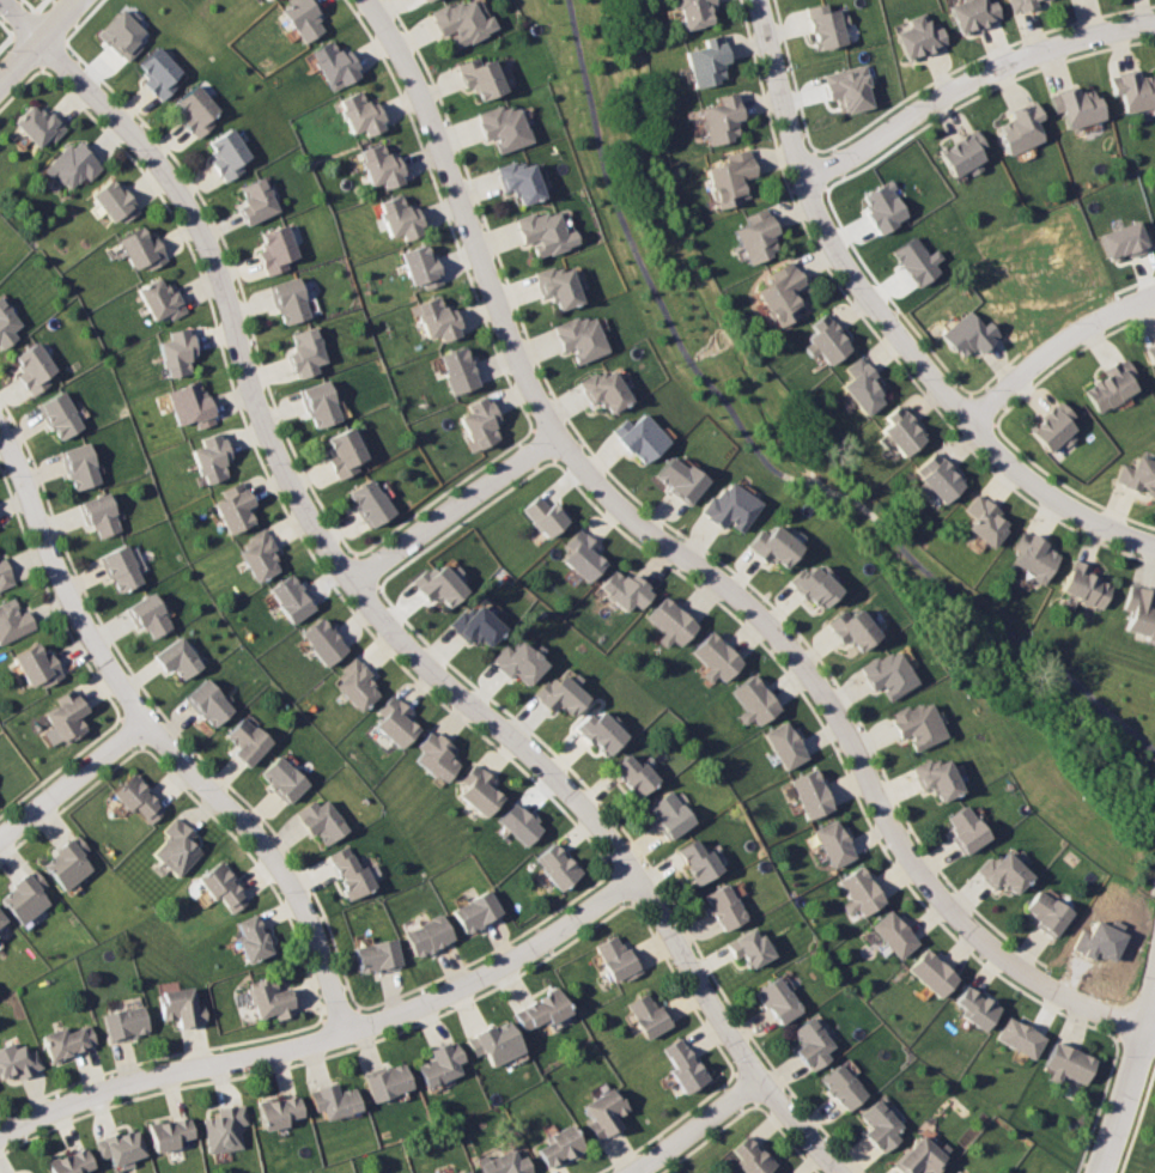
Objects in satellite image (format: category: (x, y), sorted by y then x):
building: (269, 0)
building: (419, 0)
building: (425, 0)
road: (29, 4)
road: (37, 4)
building: (1022, 4)
building: (693, 12)
building: (972, 13)
building: (302, 17)
road: (19, 19)
road: (85, 19)
building: (461, 22)
road: (47, 23)
road: (22, 25)
building: (826, 25)
building: (122, 32)
building: (919, 36)
road: (4, 39)
road: (37, 39)
road: (53, 44)
road: (31, 49)
building: (706, 61)
building: (335, 65)
building: (160, 72)
building: (479, 75)
road: (972, 83)
road: (19, 86)
building: (847, 87)
building: (1133, 90)
building: (1076, 107)
building: (197, 109)
building: (360, 114)
building: (719, 118)
building: (39, 126)
building: (503, 127)
building: (1020, 128)
building: (962, 152)
building: (229, 153)
building: (75, 165)
building: (381, 165)
building: (730, 177)
building: (518, 181)
building: (256, 200)
building: (117, 202)
building: (883, 207)
road: (445, 211)
building: (400, 217)
building: (543, 232)
building: (755, 236)
building: (1125, 239)
building: (276, 248)
building: (144, 250)
building: (917, 260)
building: (420, 265)
road: (241, 279)
building: (557, 286)
building: (780, 293)
building: (290, 300)
building: (164, 302)
building: (436, 317)
building: (7, 324)
road: (886, 326)
building: (969, 334)
building: (579, 338)
building: (825, 340)
building: (306, 352)
building: (180, 353)
building: (1151, 353)
road: (1058, 355)
building: (36, 369)
building: (458, 369)
building: (1112, 384)
building: (862, 387)
building: (603, 389)
building: (321, 403)
building: (195, 405)
building: (62, 415)
building: (479, 423)
building: (1053, 426)
building: (899, 431)
building: (639, 437)
road: (543, 442)
building: (345, 451)
road: (760, 454)
building: (214, 457)
park: (843, 463)
building: (83, 466)
building: (1138, 475)
building: (936, 479)
building: (680, 480)
road: (444, 492)
road: (279, 496)
building: (370, 502)
building: (236, 506)
road: (454, 506)
building: (729, 506)
building: (543, 513)
building: (103, 515)
road: (463, 519)
road: (662, 521)
building: (984, 521)
building: (771, 545)
building: (262, 552)
building: (582, 554)
building: (1034, 555)
road: (694, 565)
building: (123, 570)
road: (364, 571)
building: (5, 575)
road: (355, 584)
building: (439, 584)
building: (811, 584)
building: (1087, 585)
building: (624, 589)
road: (49, 596)
building: (293, 598)
building: (1139, 610)
building: (151, 615)
building: (13, 621)
building: (668, 621)
building: (474, 627)
building: (850, 627)
building: (324, 642)
building: (712, 657)
building: (180, 658)
building: (516, 662)
building: (38, 665)
building: (886, 673)
building: (359, 682)
building: (560, 694)
building: (752, 700)
building: (209, 704)
road: (164, 713)
building: (67, 715)
building: (395, 719)
building: (916, 724)
road: (133, 729)
building: (597, 730)
building: (250, 741)
road: (163, 742)
building: (783, 743)
road: (835, 753)
building: (436, 756)
road: (60, 766)
building: (633, 774)
building: (935, 777)
road: (72, 778)
building: (285, 778)
building: (479, 791)
building: (809, 792)
building: (139, 798)
road: (69, 802)
building: (668, 815)
building: (322, 820)
building: (518, 822)
building: (963, 828)
building: (832, 841)
building: (177, 847)
road: (645, 859)
building: (68, 862)
building: (697, 862)
road: (257, 865)
building: (554, 865)
building: (351, 873)
building: (1002, 873)
road: (1153, 879)
road: (621, 883)
building: (224, 887)
building: (858, 891)
building: (25, 894)
building: (724, 906)
building: (1046, 911)
building: (475, 912)
building: (1, 919)
building: (893, 932)
building: (254, 937)
building: (427, 937)
building: (1099, 938)
road: (1028, 947)
building: (749, 948)
road: (488, 949)
building: (378, 956)
building: (615, 960)
building: (931, 972)
road: (682, 986)
building: (272, 999)
building: (778, 999)
building: (974, 1007)
building: (182, 1008)
building: (539, 1009)
road: (340, 1014)
building: (646, 1016)
building: (126, 1023)
road: (1150, 1027)
building: (1019, 1037)
road: (332, 1040)
road: (1133, 1040)
building: (68, 1041)
building: (492, 1044)
building: (811, 1044)
road: (324, 1052)
road: (157, 1057)
building: (19, 1060)
building: (438, 1063)
building: (1066, 1063)
building: (681, 1064)
building: (387, 1081)
road: (1127, 1081)
road: (744, 1084)
building: (843, 1087)
building: (333, 1100)
road: (1099, 1106)
building: (280, 1111)
building: (601, 1111)
road: (1137, 1118)
road: (663, 1125)
road: (797, 1125)
road: (695, 1126)
building: (880, 1126)
building: (227, 1129)
building: (171, 1132)
road: (785, 1137)
road: (704, 1138)
building: (121, 1145)
building: (557, 1147)
building: (749, 1155)
building: (919, 1156)
building: (71, 1162)
building: (501, 1163)
building: (464, 1172)

